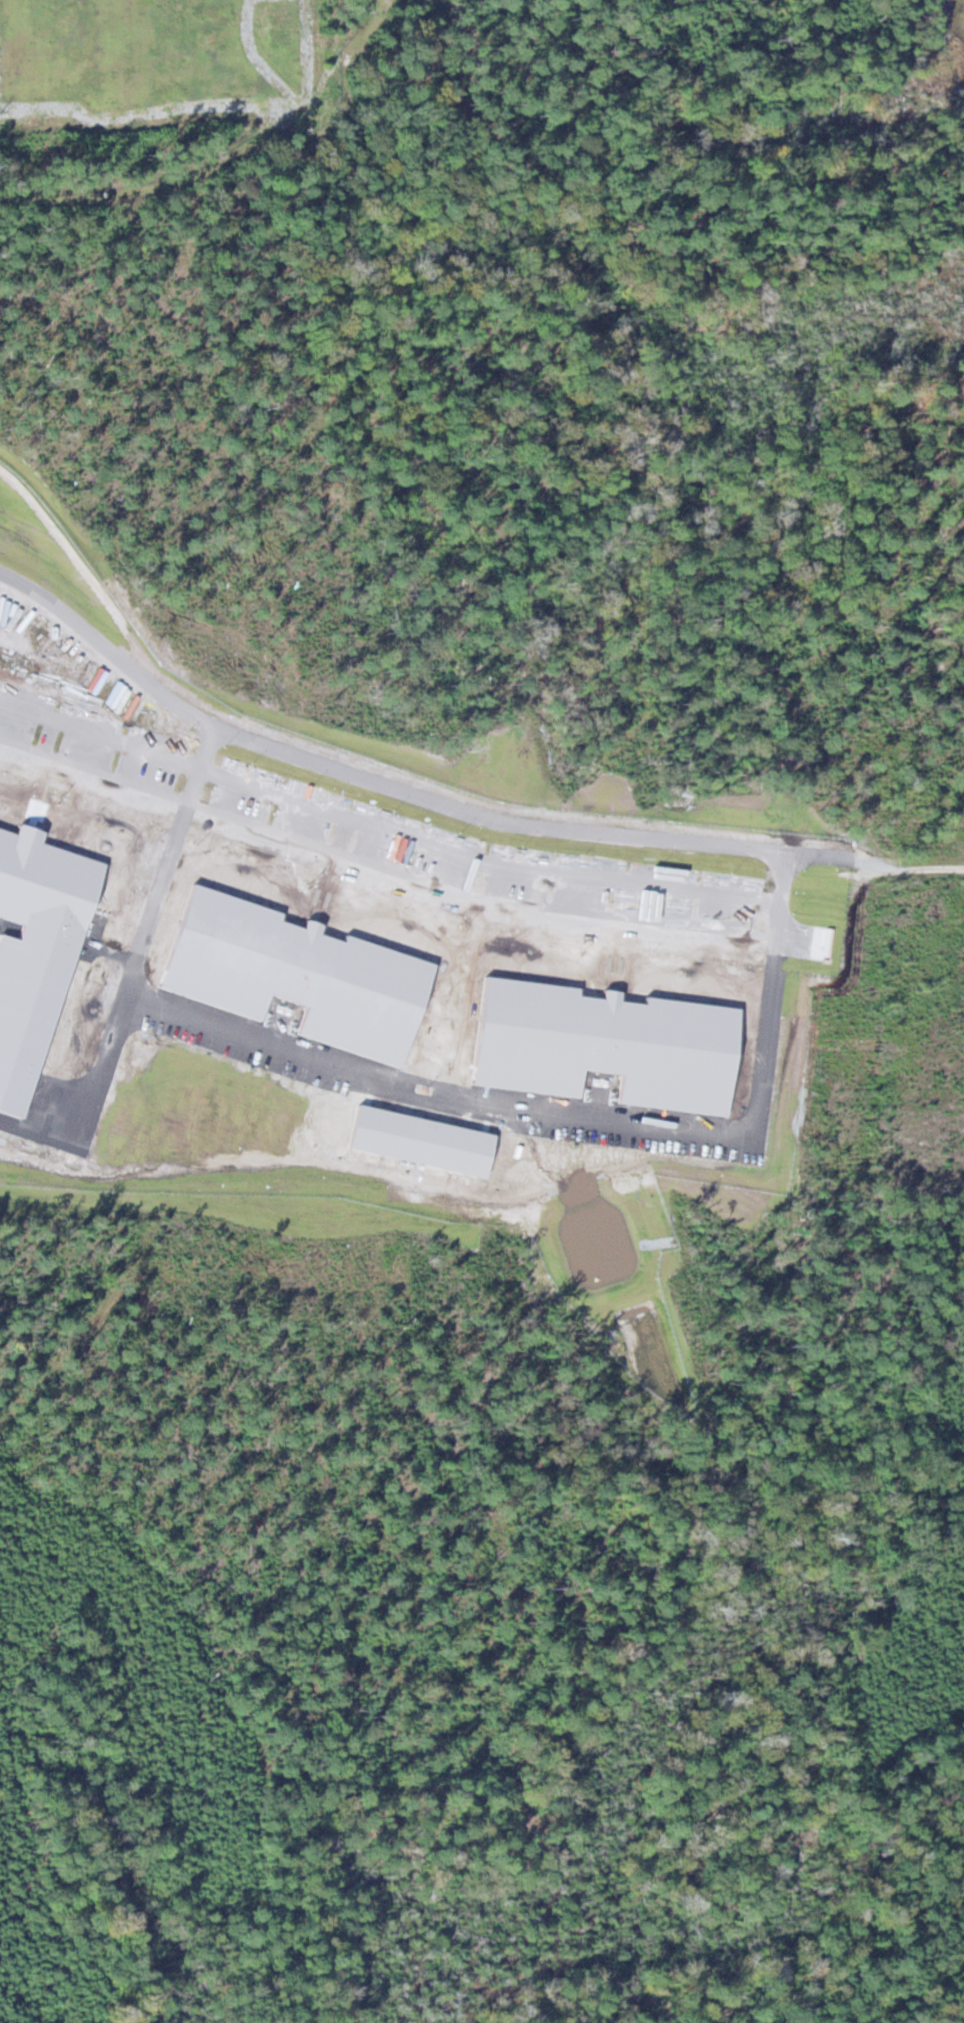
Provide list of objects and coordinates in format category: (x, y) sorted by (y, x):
road: (429, 916)
road: (194, 1189)

